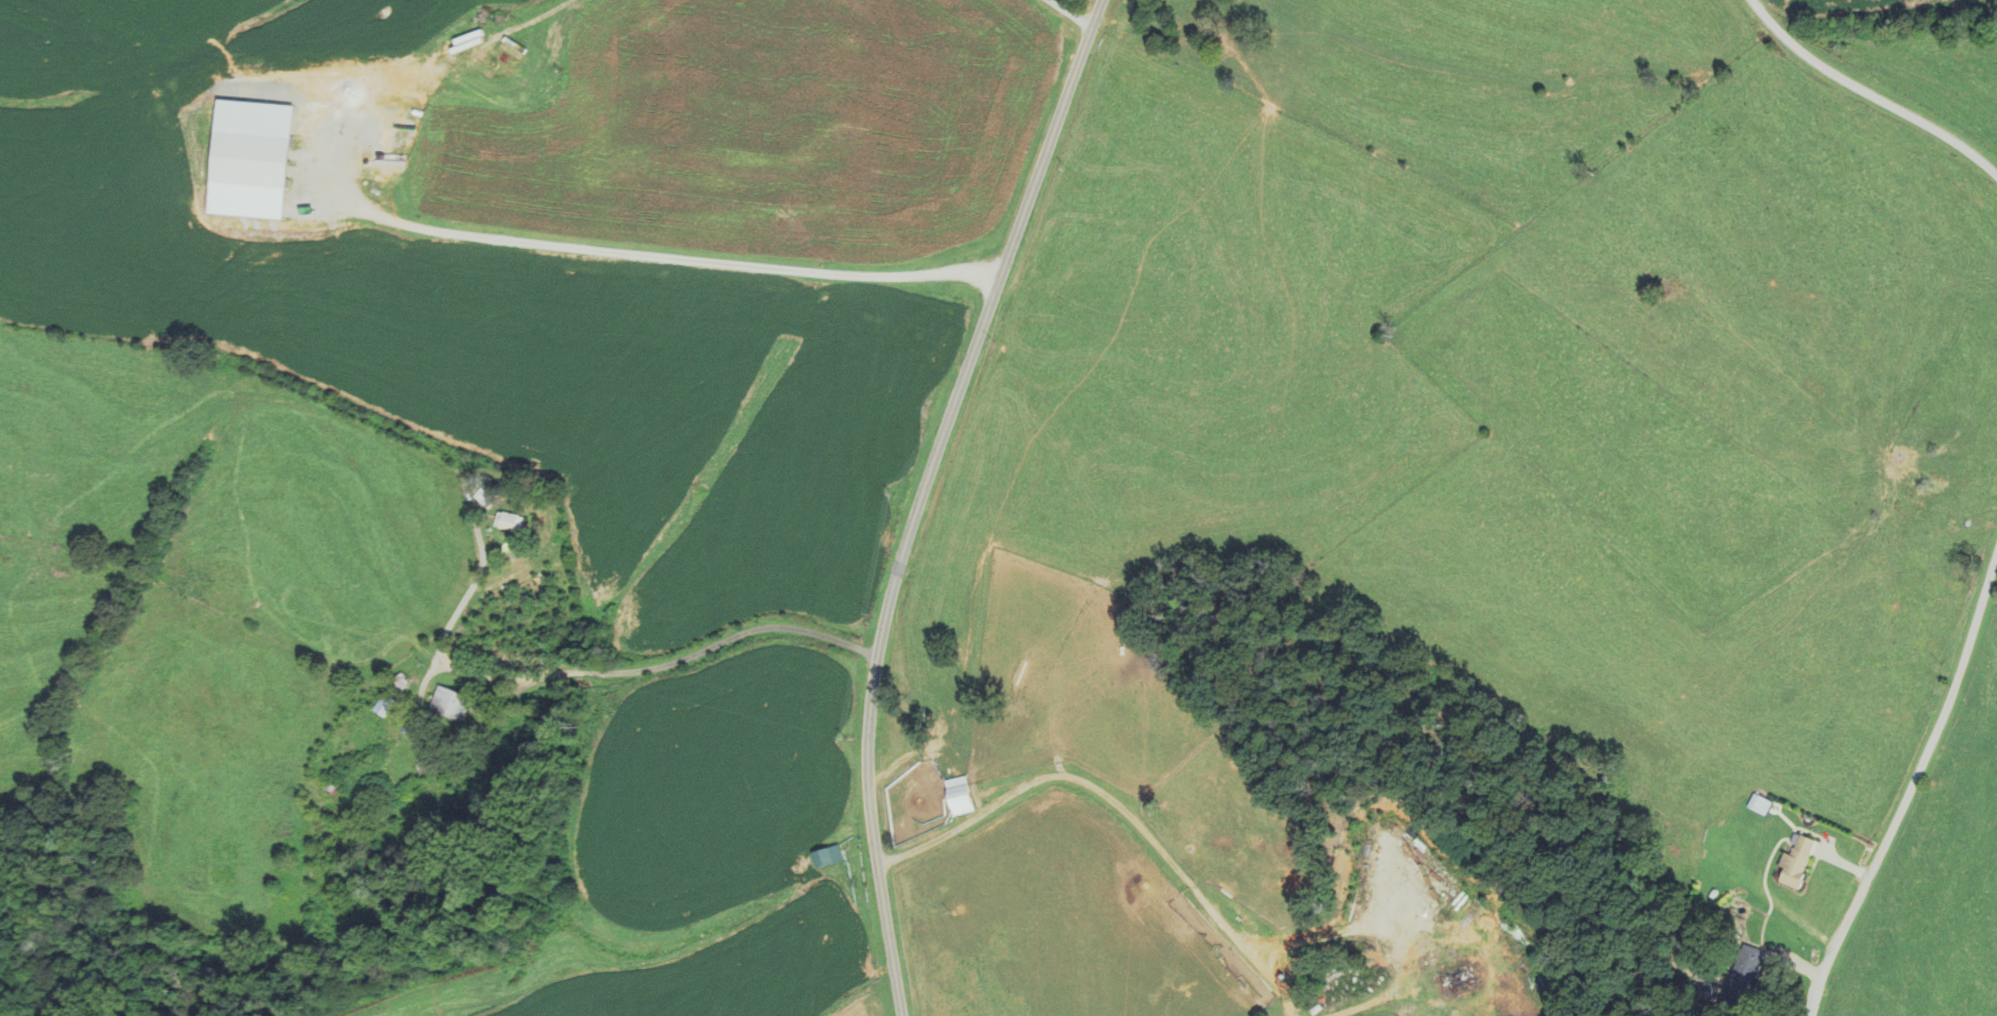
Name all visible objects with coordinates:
building: (1192, 4)
road: (1075, 15)
building: (512, 54)
building: (409, 80)
road: (1868, 95)
road: (498, 239)
road: (911, 491)
building: (484, 494)
building: (509, 521)
road: (724, 640)
road: (446, 660)
building: (392, 697)
building: (451, 701)
building: (962, 796)
road: (1122, 799)
road: (1912, 803)
building: (354, 839)
building: (827, 857)
building: (1792, 861)
building: (1745, 973)

